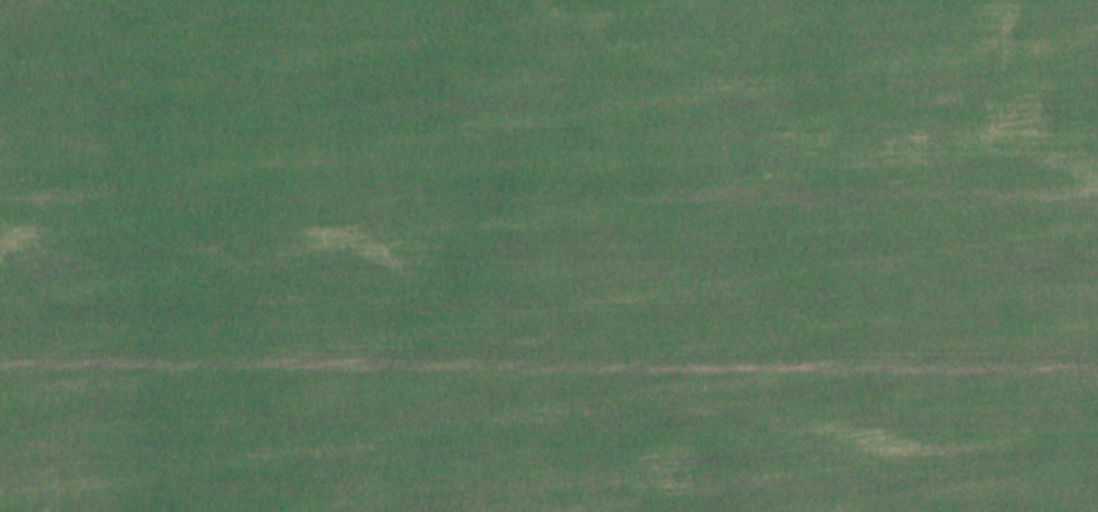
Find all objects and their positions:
crop: (549, 255)

